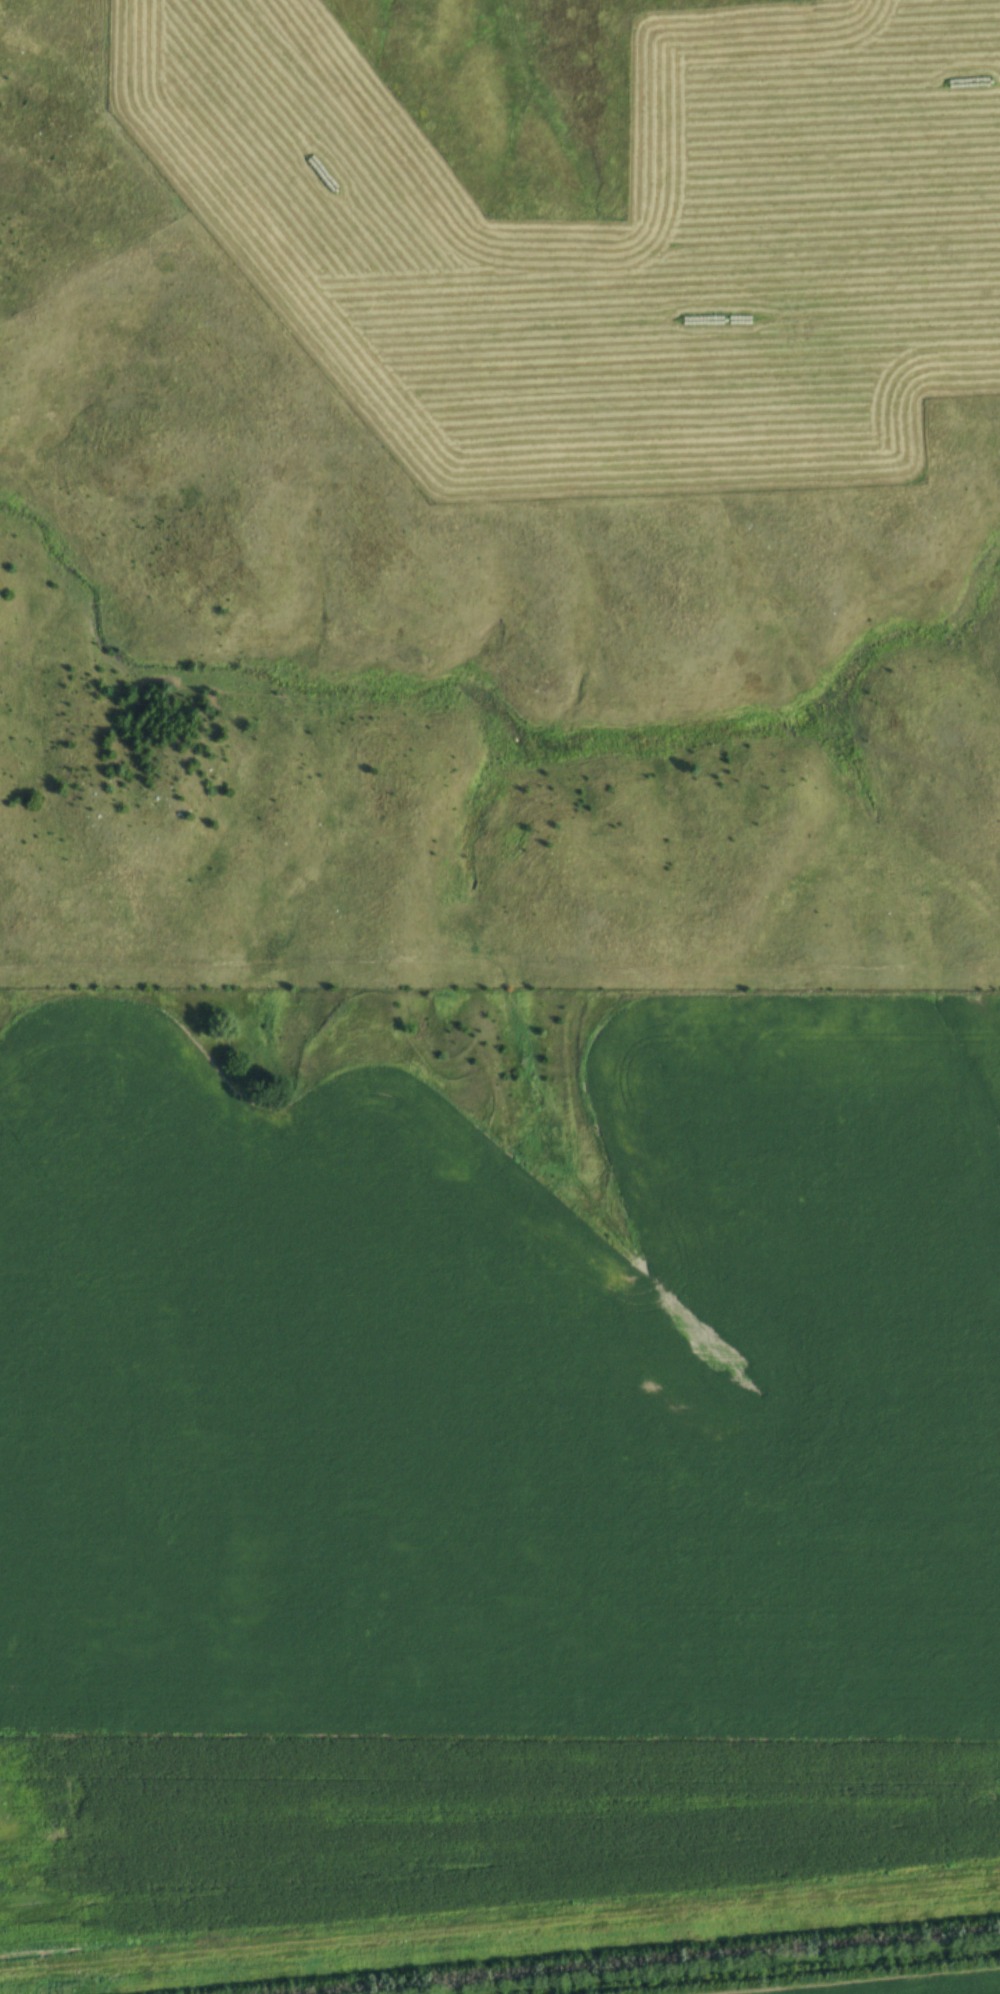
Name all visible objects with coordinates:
crop: (504, 1385)

